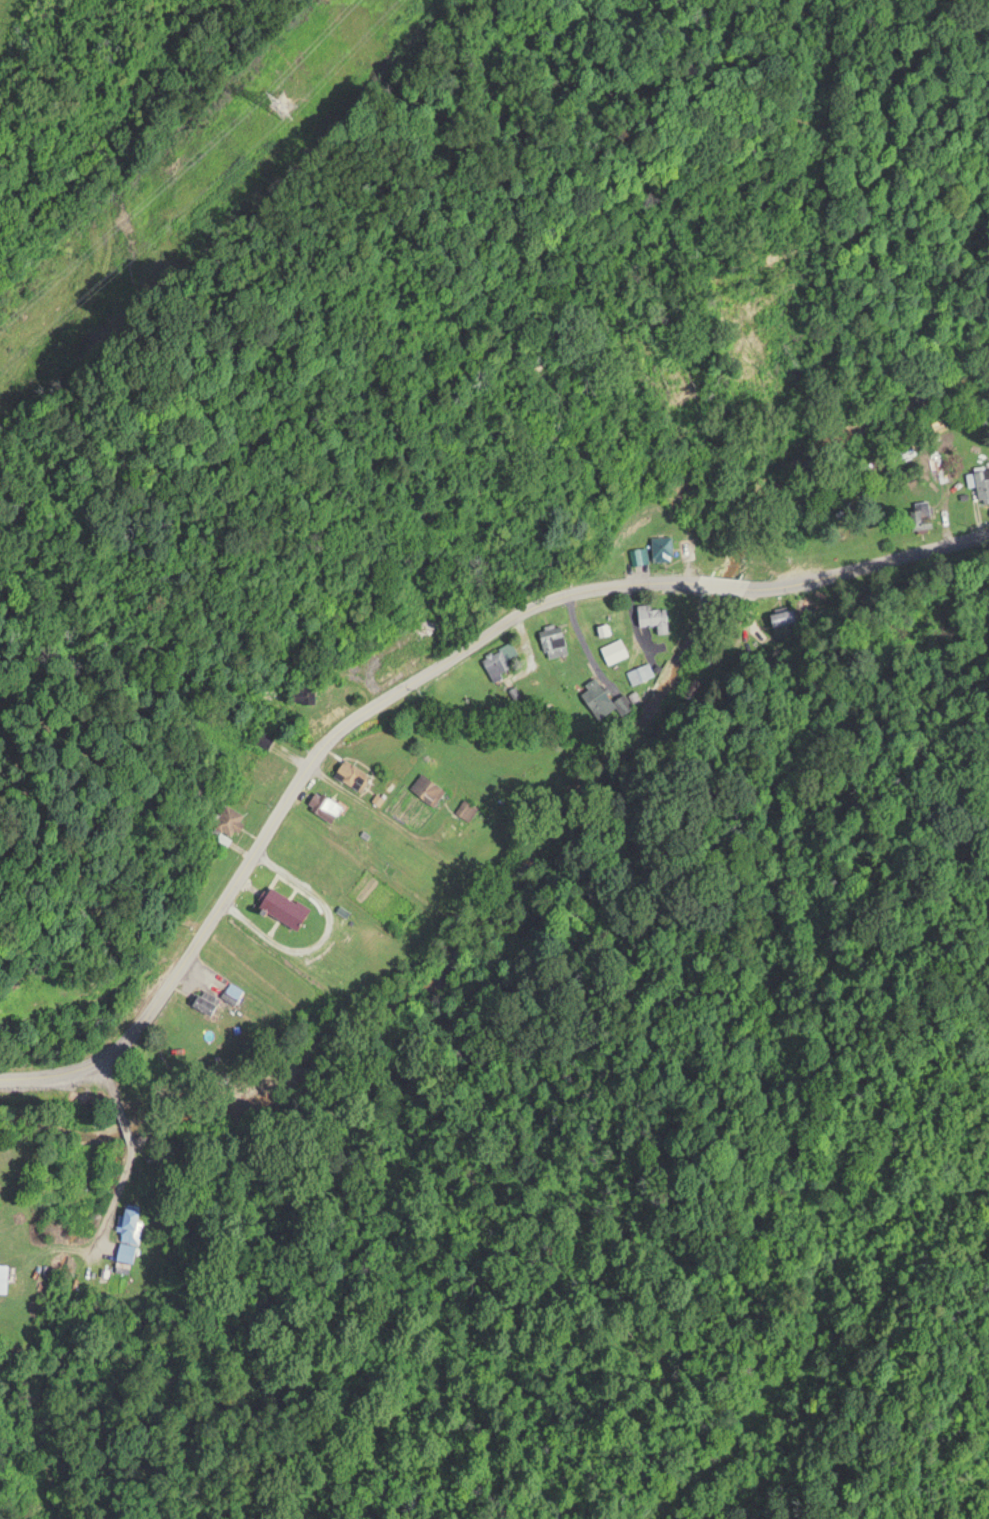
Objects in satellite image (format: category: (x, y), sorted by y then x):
power tower: (305, 81)
river: (978, 372)
building: (980, 482)
building: (923, 513)
building: (663, 546)
building: (639, 554)
building: (783, 614)
building: (654, 615)
building: (554, 638)
building: (614, 648)
building: (404, 655)
building: (499, 657)
building: (640, 671)
road: (415, 679)
building: (599, 698)
building: (273, 766)
building: (352, 773)
building: (428, 787)
building: (325, 804)
building: (467, 807)
building: (228, 818)
building: (285, 907)
building: (204, 998)
road: (135, 1151)
building: (131, 1223)

